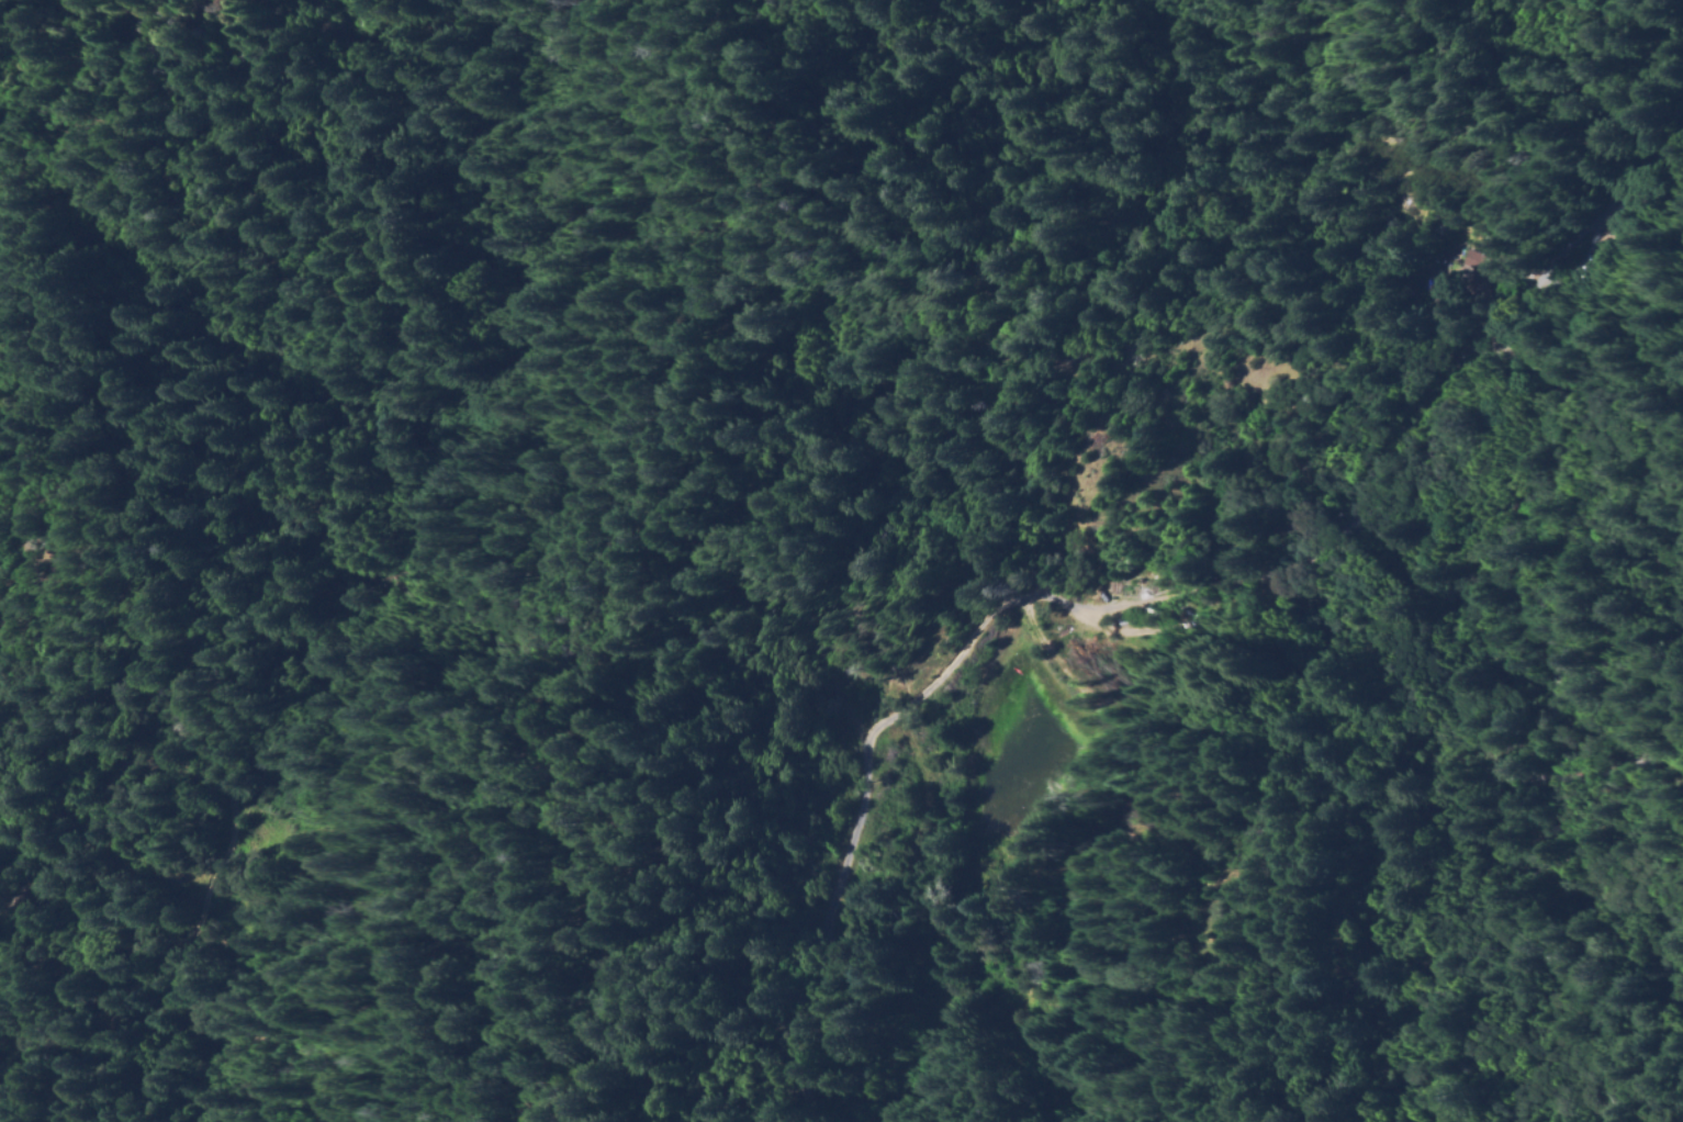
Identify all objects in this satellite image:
building: (1618, 203)
building: (1470, 277)
building: (1234, 559)
building: (1437, 596)
building: (1154, 612)

